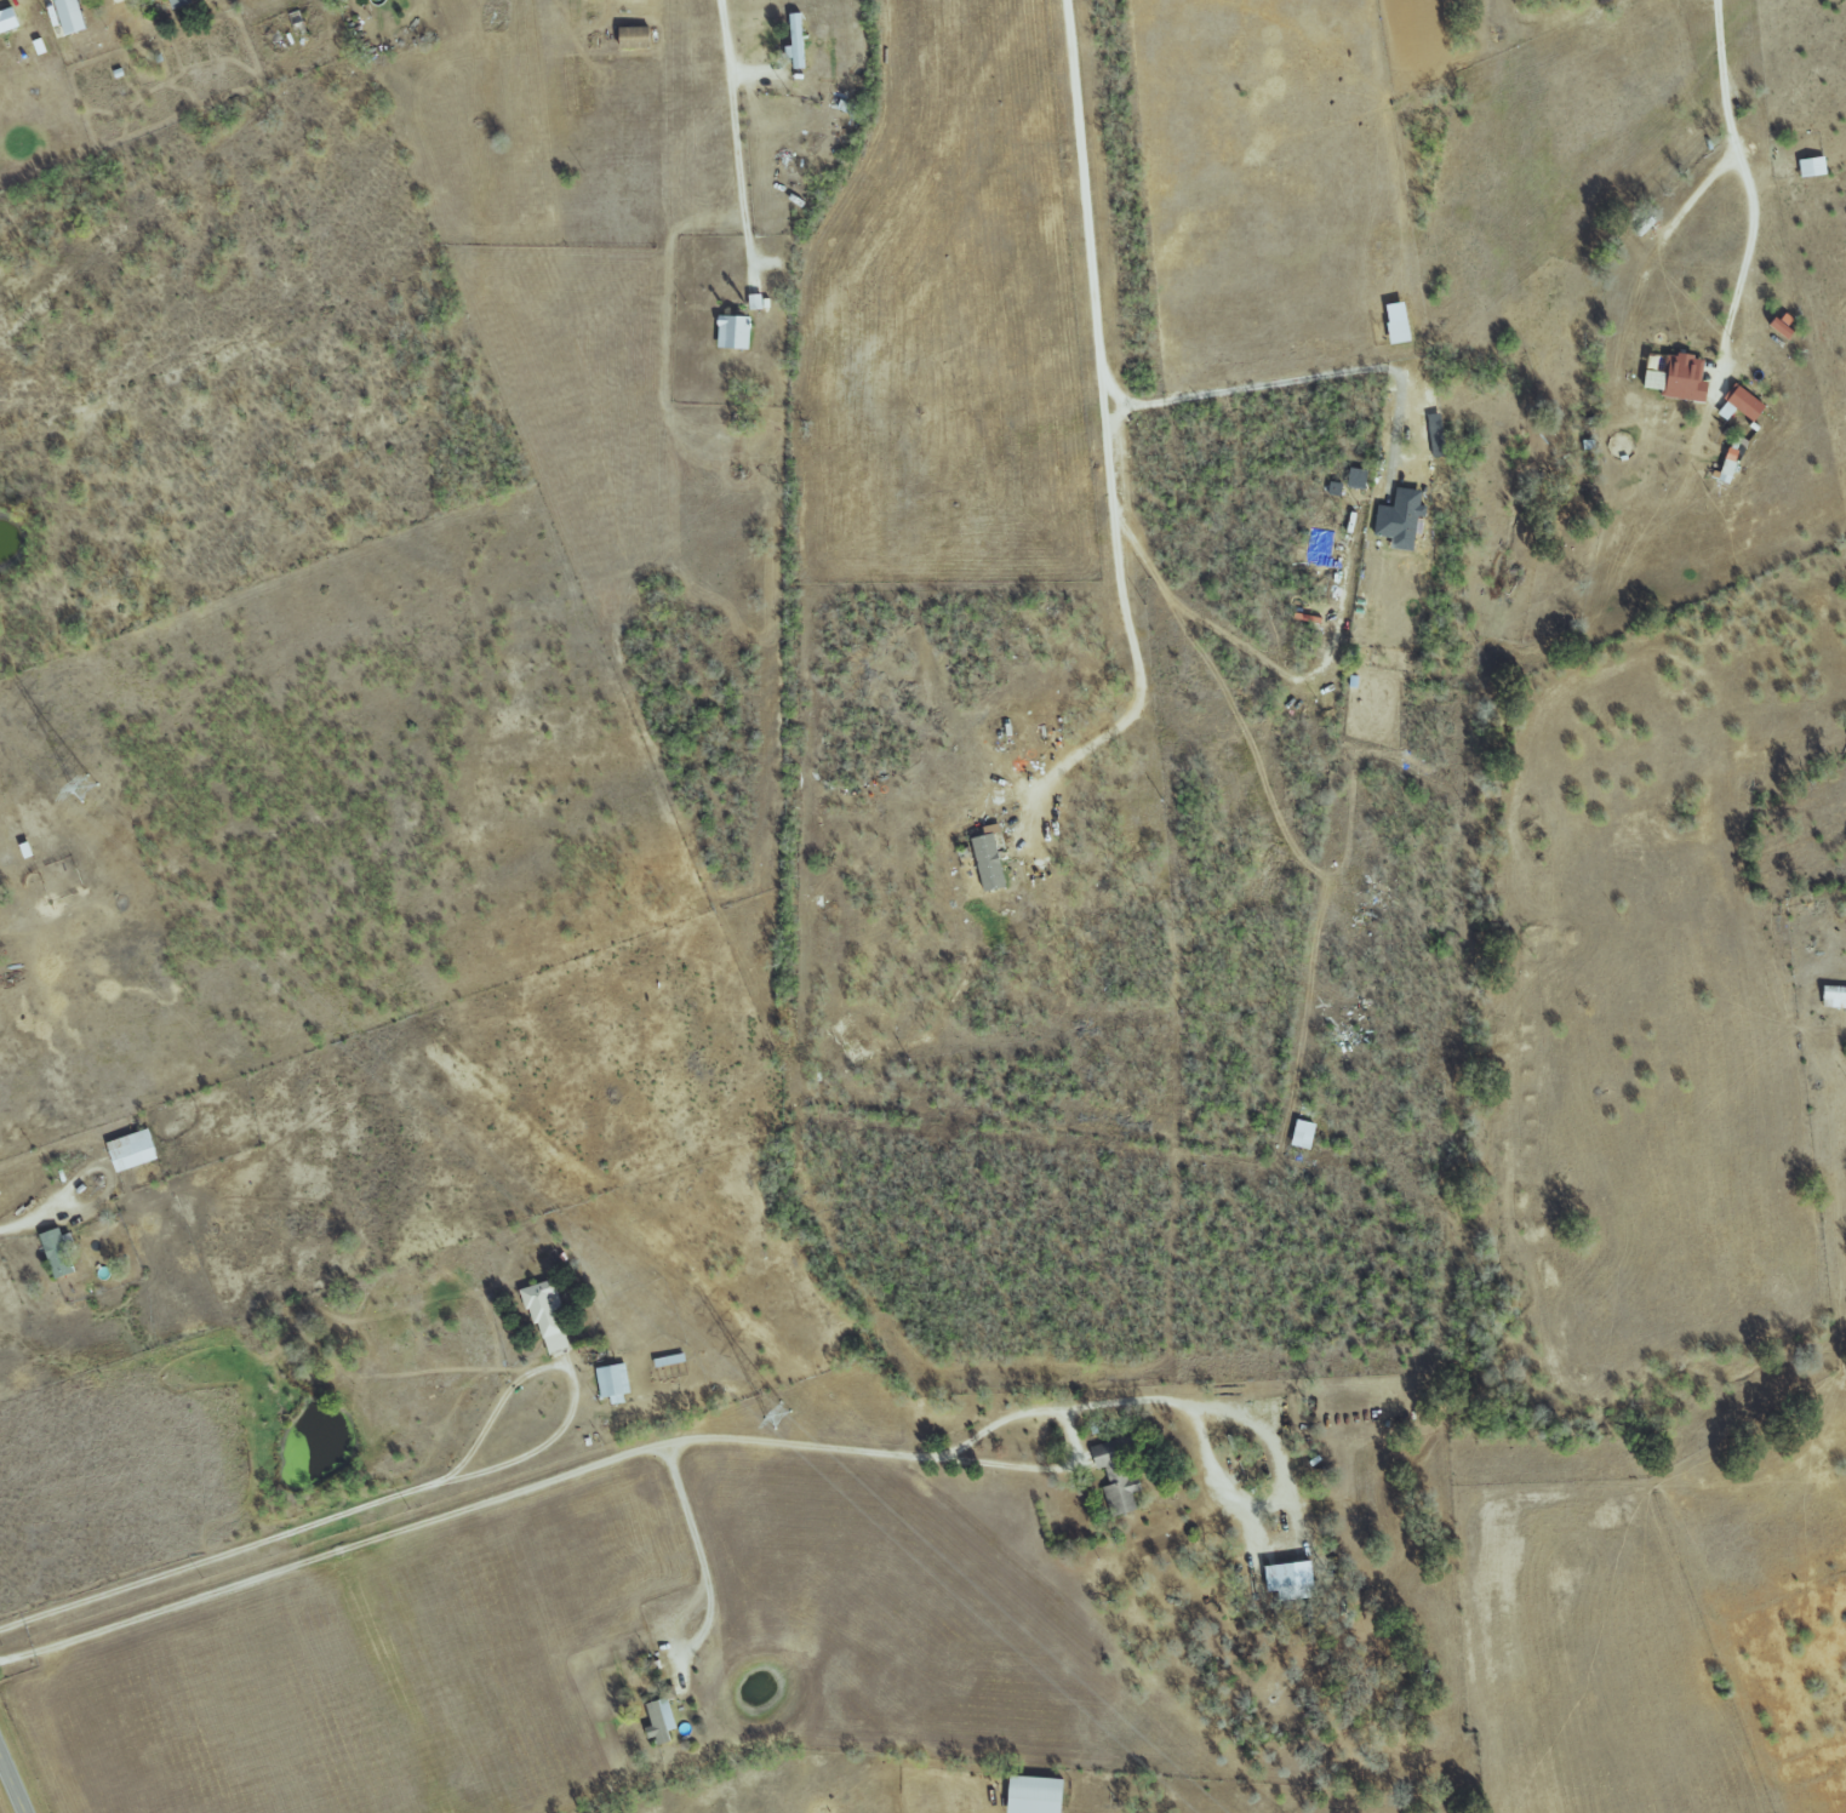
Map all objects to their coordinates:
building: (181, 2)
building: (72, 16)
building: (10, 21)
building: (636, 38)
building: (798, 40)
road: (733, 137)
road: (1699, 188)
road: (1749, 190)
building: (1782, 328)
building: (735, 331)
building: (1401, 331)
building: (1681, 378)
road: (1291, 387)
building: (1743, 404)
road: (1105, 427)
building: (1728, 470)
building: (1402, 519)
power tower: (56, 763)
building: (990, 860)
building: (1304, 1134)
building: (135, 1150)
road: (46, 1217)
building: (59, 1253)
building: (548, 1316)
building: (613, 1383)
power tower: (776, 1415)
road: (1191, 1418)
road: (1073, 1436)
road: (673, 1452)
building: (1119, 1475)
road: (463, 1506)
road: (295, 1528)
building: (1292, 1580)
road: (707, 1590)
building: (661, 1721)
road: (12, 1783)
building: (1038, 1794)

